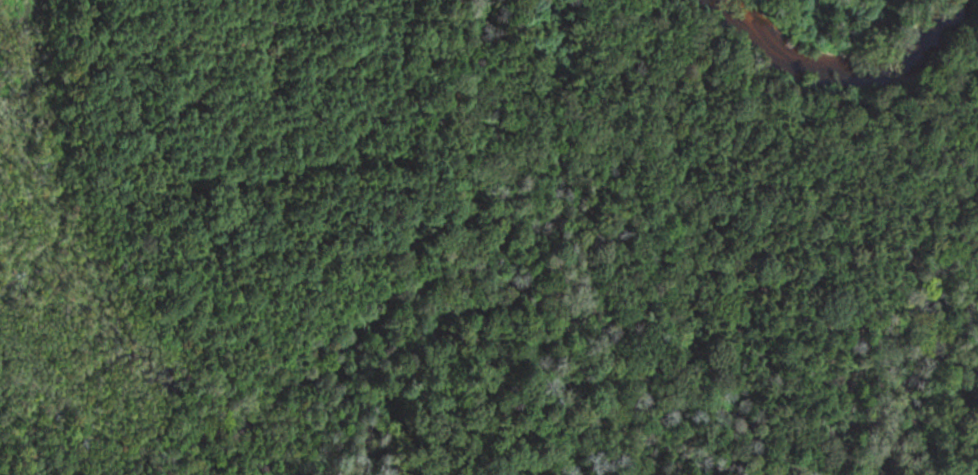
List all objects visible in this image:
river: (848, 62)

